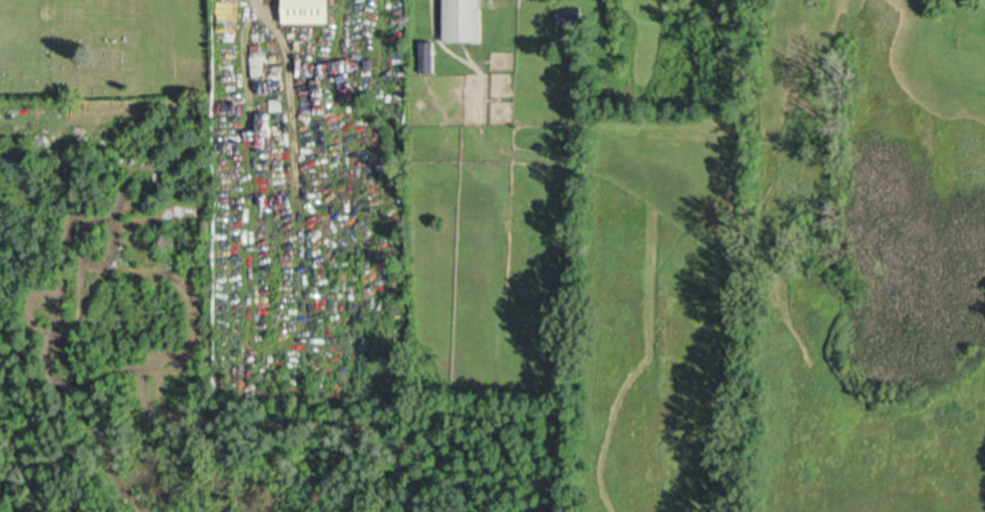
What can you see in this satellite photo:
road: (257, 5)
building: (307, 10)
building: (571, 14)
building: (465, 20)
park: (104, 48)
building: (429, 55)
building: (278, 102)

